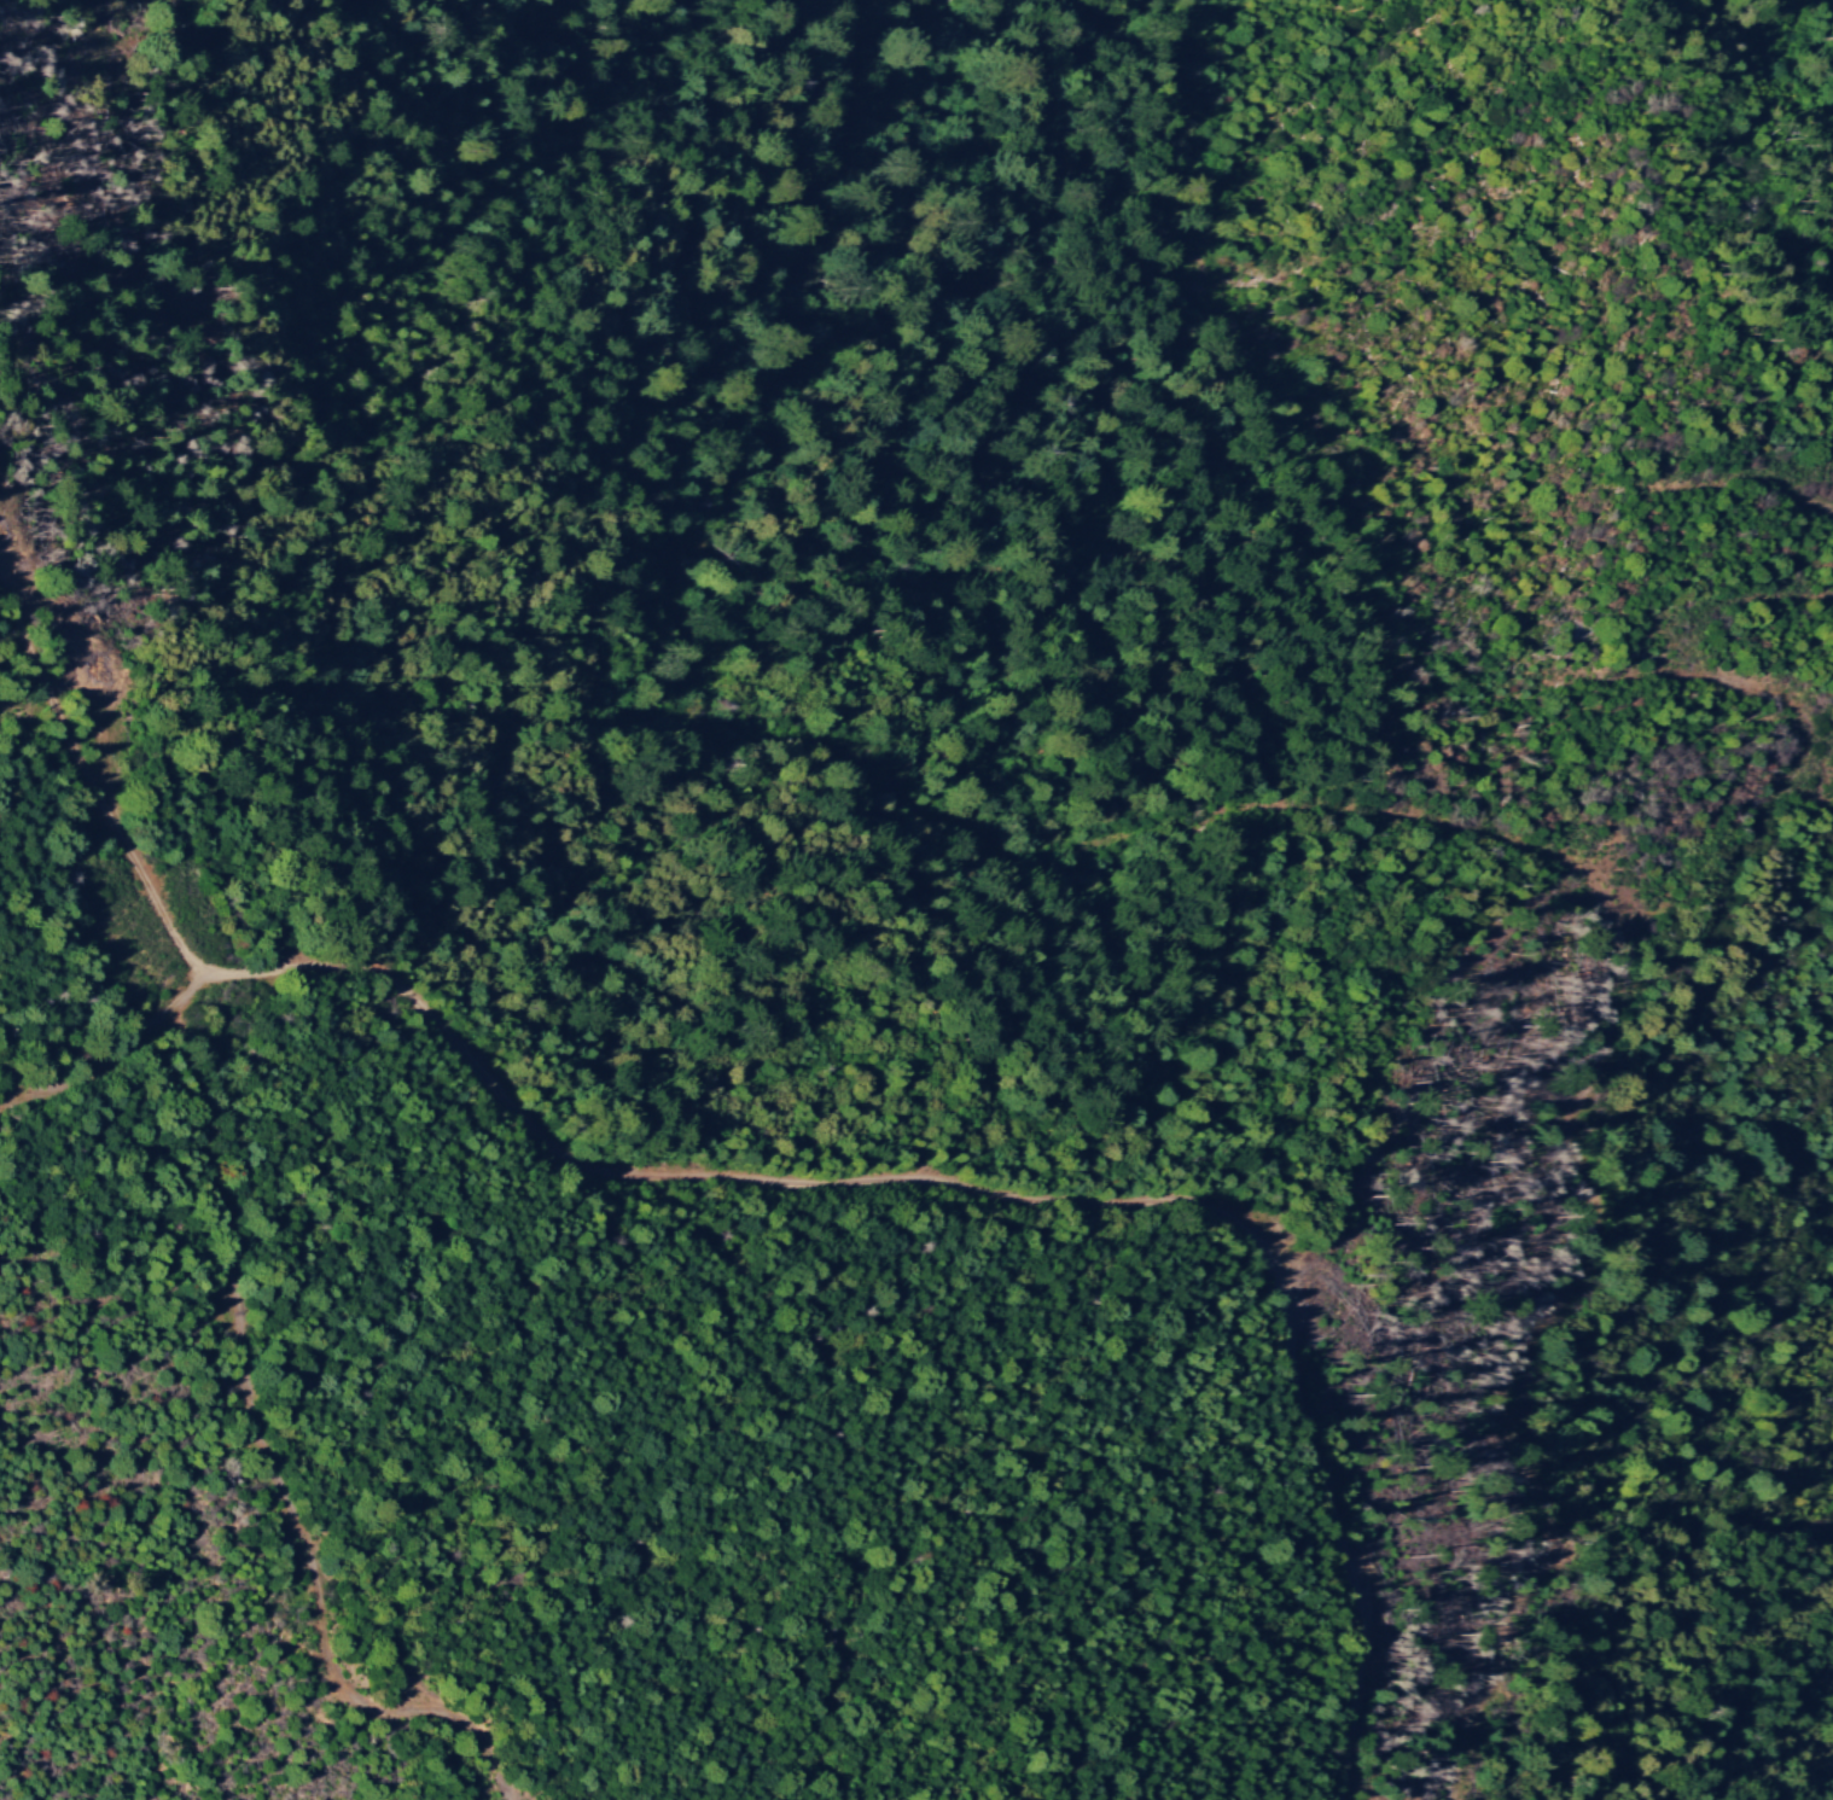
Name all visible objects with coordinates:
road: (1373, 1624)

